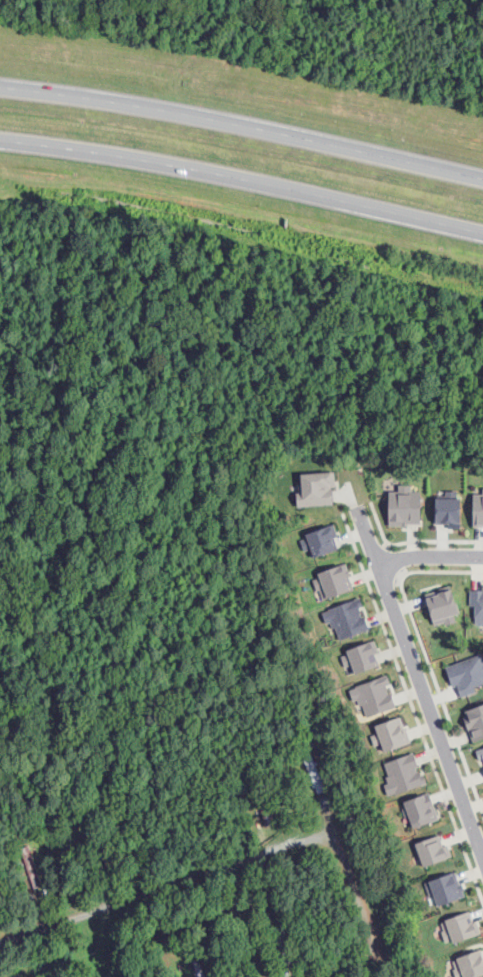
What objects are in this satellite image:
road: (241, 139)
road: (242, 192)
building: (315, 489)
building: (404, 506)
building: (447, 507)
building: (477, 509)
building: (321, 540)
road: (427, 558)
building: (333, 581)
building: (477, 604)
building: (441, 605)
building: (345, 618)
building: (359, 657)
building: (466, 674)
road: (419, 691)
building: (373, 695)
building: (474, 722)
building: (390, 734)
building: (481, 754)
building: (402, 775)
building: (318, 784)
building: (420, 810)
building: (432, 851)
road: (232, 864)
building: (446, 889)
building: (461, 927)
building: (469, 965)

